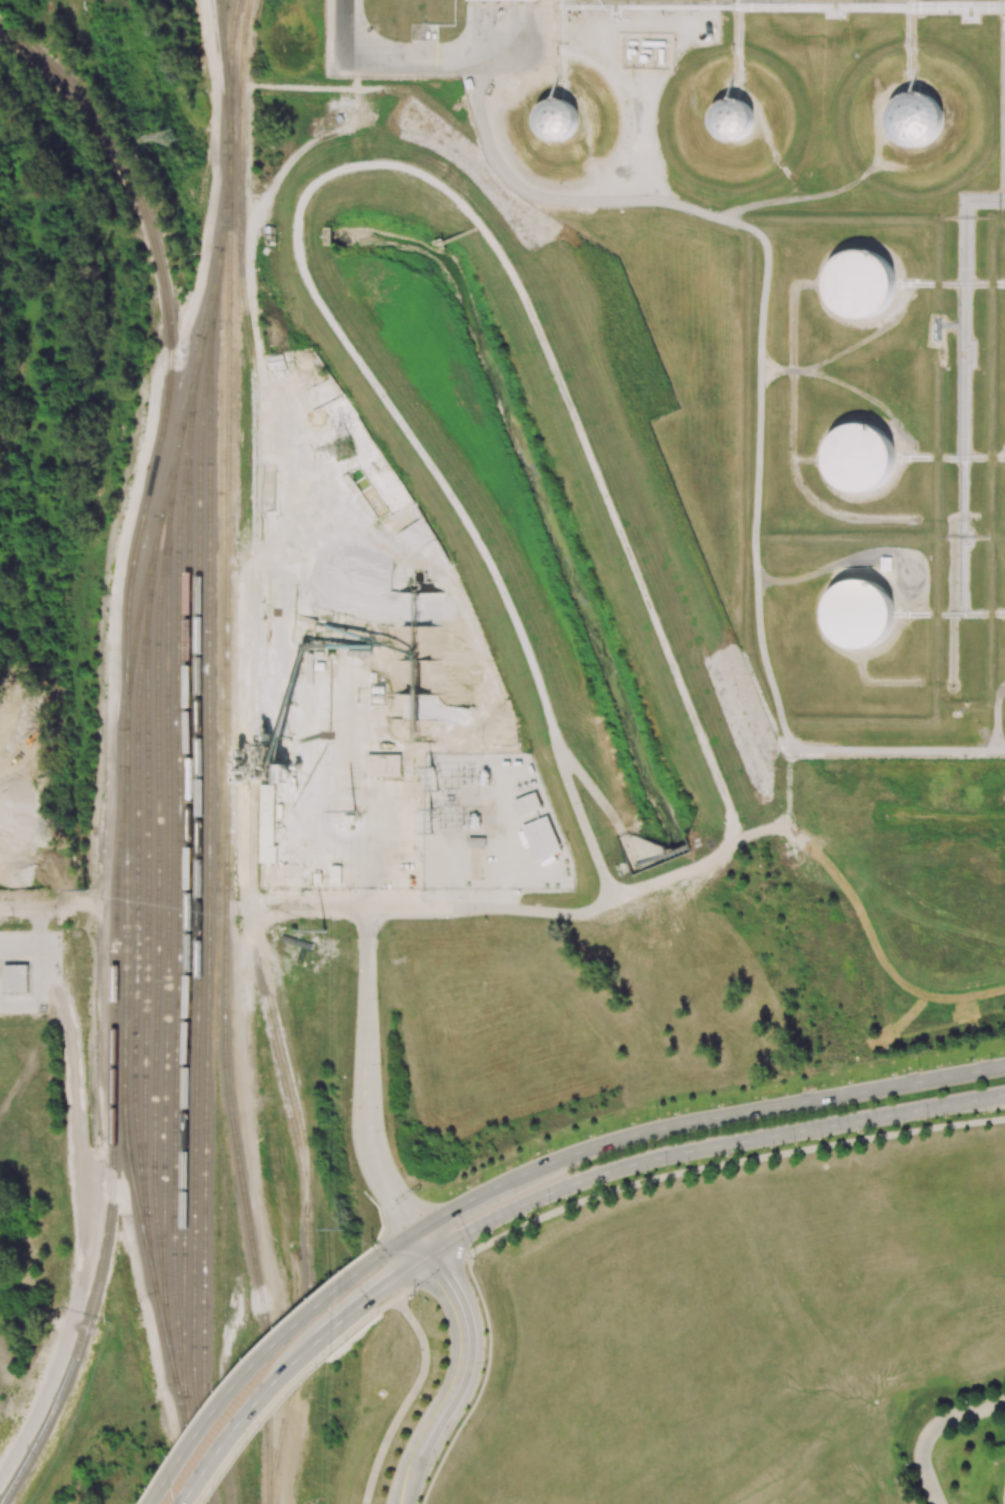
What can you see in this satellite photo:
building: (510, 0)
railway: (223, 49)
railway: (229, 49)
road: (443, 55)
railway: (39, 60)
building: (556, 119)
building: (915, 119)
building: (733, 120)
power tower: (172, 136)
railway: (230, 145)
railway: (213, 285)
building: (861, 285)
storage tank: (861, 285)
railway: (216, 299)
railway: (167, 390)
railway: (191, 409)
railway: (184, 419)
power tower: (344, 447)
building: (861, 457)
storage tank: (861, 457)
railway: (170, 494)
railway: (151, 579)
railway: (145, 580)
railway: (246, 609)
building: (860, 615)
storage tank: (860, 615)
railway: (125, 750)
building: (383, 764)
railway: (256, 770)
power tower: (436, 775)
power tower: (356, 807)
building: (268, 809)
power substation: (490, 826)
building: (542, 838)
power tower: (434, 839)
railway: (224, 849)
building: (335, 874)
power tower: (86, 893)
railway: (175, 903)
railway: (155, 904)
railway: (165, 904)
railway: (185, 904)
railway: (144, 905)
road: (30, 909)
road: (342, 909)
railway: (205, 910)
railway: (195, 930)
railway: (133, 943)
road: (36, 955)
railway: (113, 962)
building: (15, 978)
road: (368, 1077)
road: (702, 1119)
railway: (125, 1131)
road: (710, 1146)
road: (731, 1163)
traffic signals: (393, 1197)
traffic signals: (446, 1216)
power tower: (342, 1229)
road: (426, 1243)
road: (385, 1253)
road: (400, 1275)
road: (433, 1275)
traffic signals: (449, 1282)
traffic signals: (387, 1285)
road: (388, 1307)
railway: (166, 1320)
railway: (85, 1325)
road: (468, 1355)
railway: (295, 1360)
road: (245, 1384)
road: (271, 1394)
road: (407, 1400)
road: (285, 1403)
railway: (186, 1413)
road: (930, 1429)
park: (954, 1442)
road: (409, 1477)
railway: (196, 1481)

